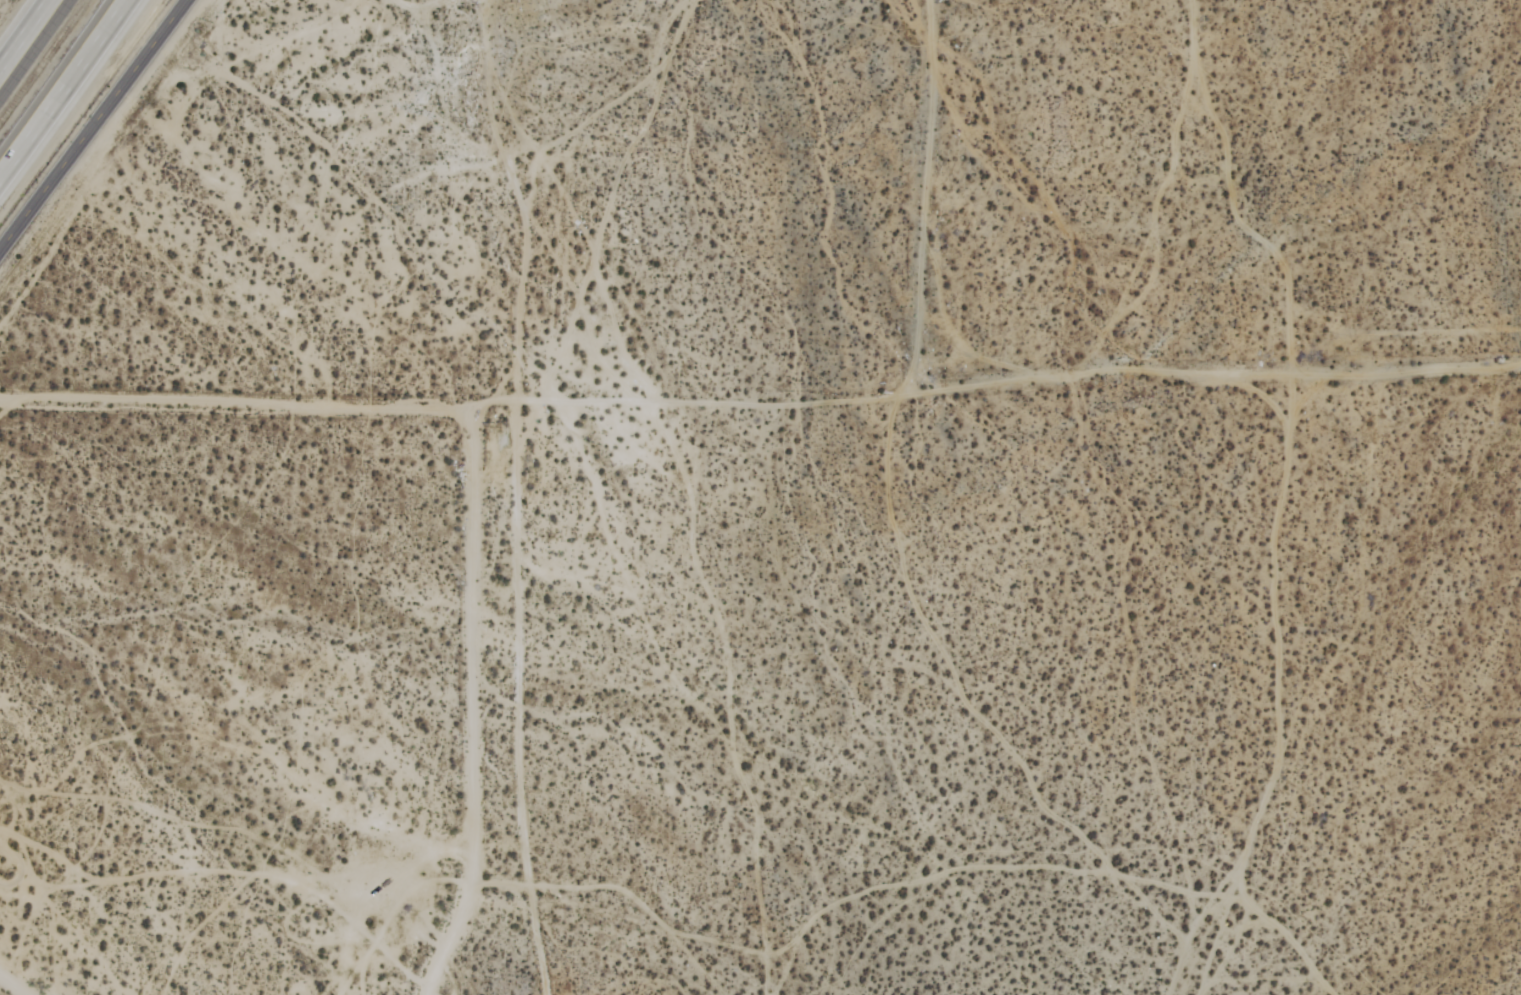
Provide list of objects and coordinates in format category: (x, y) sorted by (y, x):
road: (31, 42)
railway: (48, 65)
road: (65, 93)
road: (92, 124)
road: (236, 405)
road: (1056, 416)
road: (472, 707)
road: (546, 710)
road: (12, 985)

